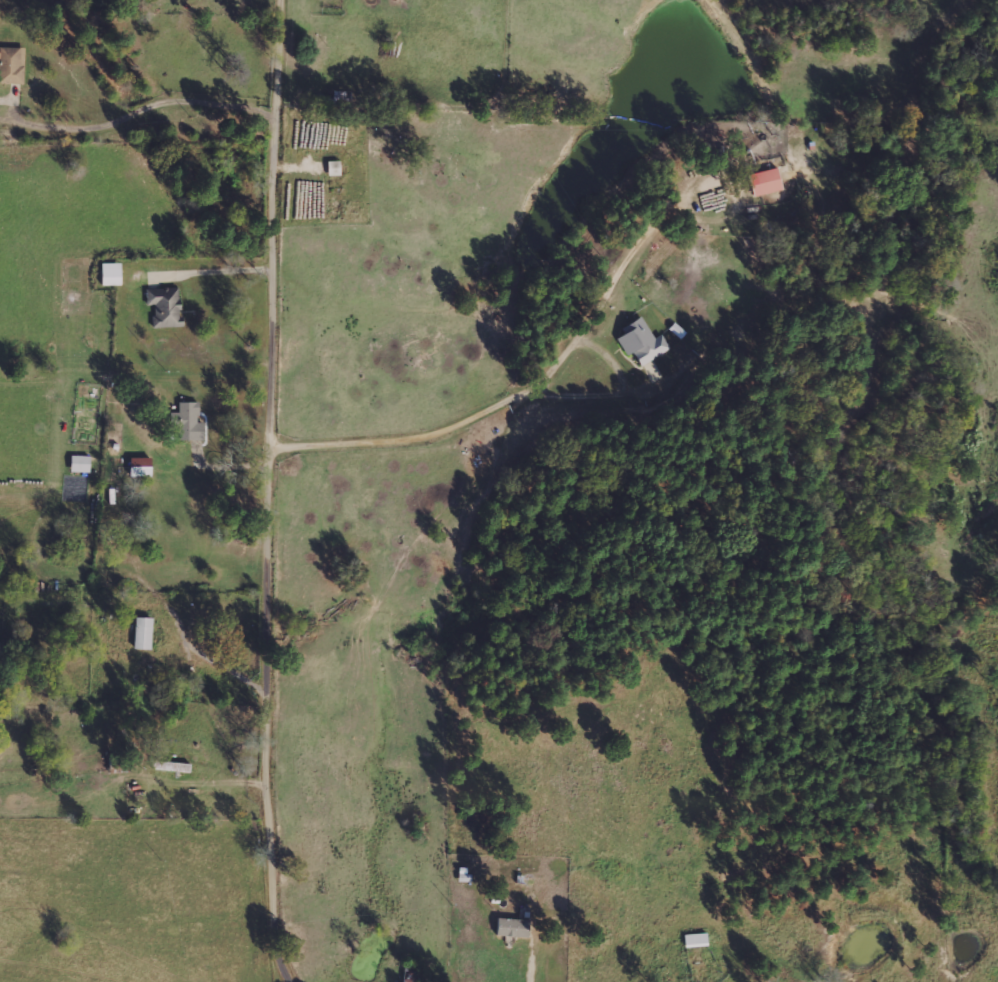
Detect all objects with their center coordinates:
building: (12, 65)
road: (139, 110)
building: (766, 182)
building: (111, 274)
building: (164, 307)
building: (641, 342)
road: (139, 344)
road: (541, 364)
building: (189, 422)
building: (140, 467)
road: (275, 491)
road: (192, 627)
building: (513, 928)
building: (695, 940)

